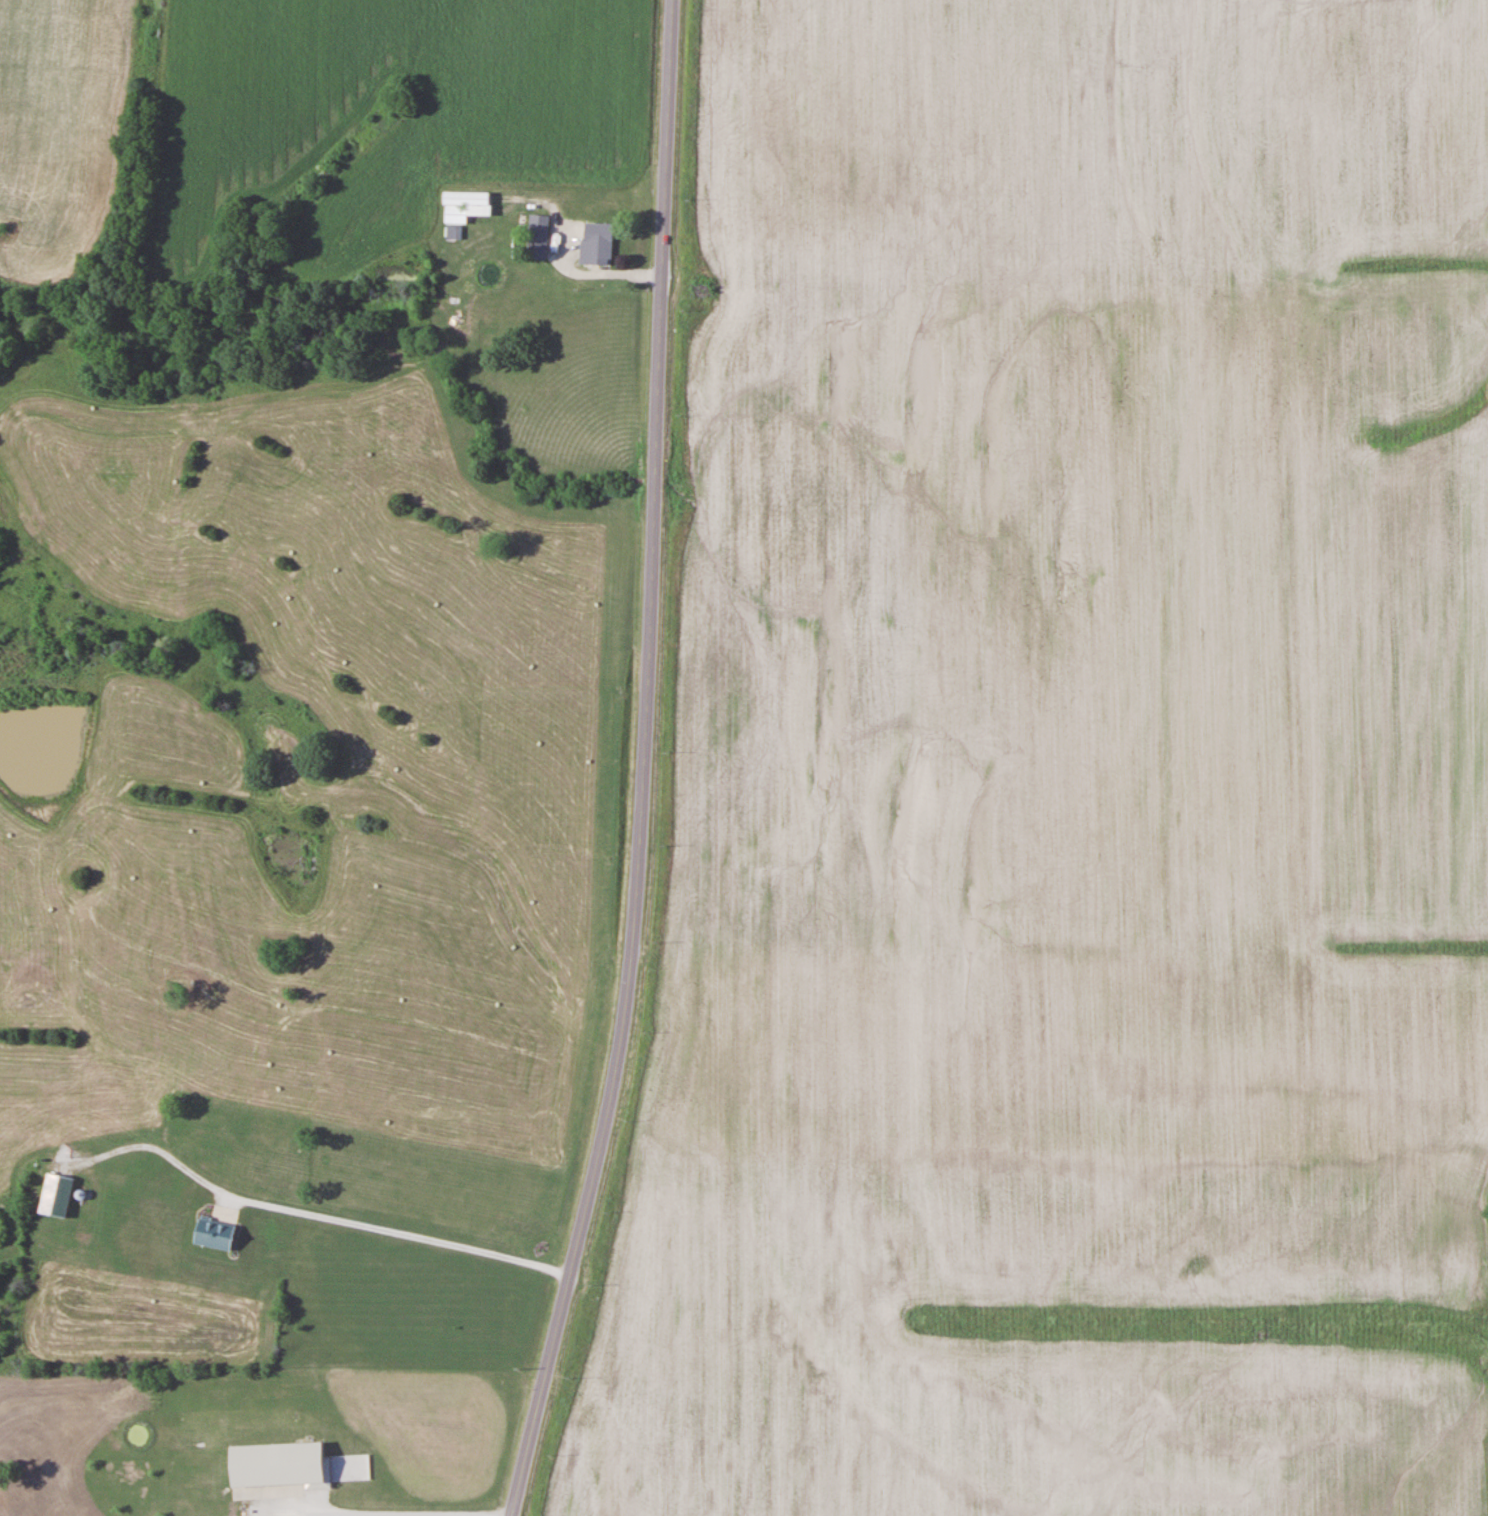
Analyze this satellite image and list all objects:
building: (465, 206)
building: (453, 232)
building: (538, 236)
building: (597, 244)
road: (587, 269)
road: (640, 764)
road: (319, 1217)
building: (216, 1233)
building: (280, 1465)
road: (398, 1515)

